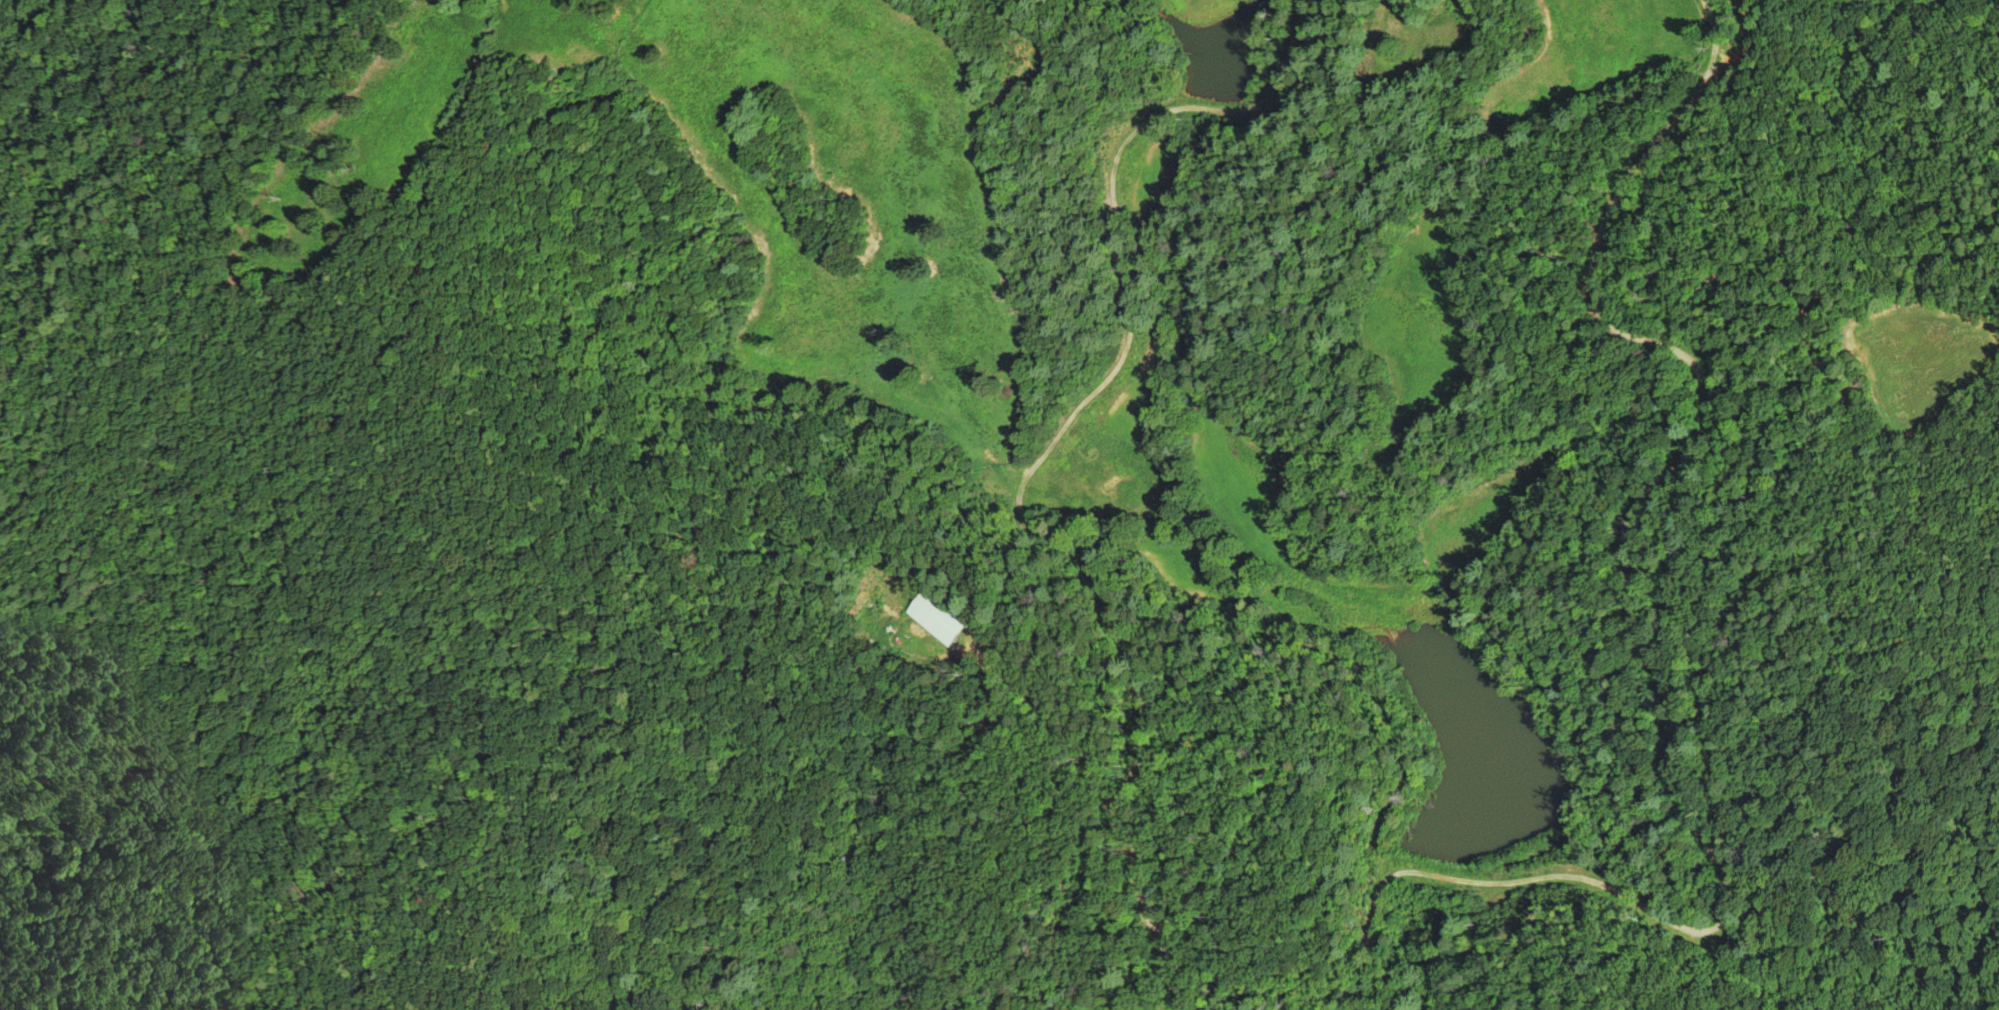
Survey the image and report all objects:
building: (936, 619)

